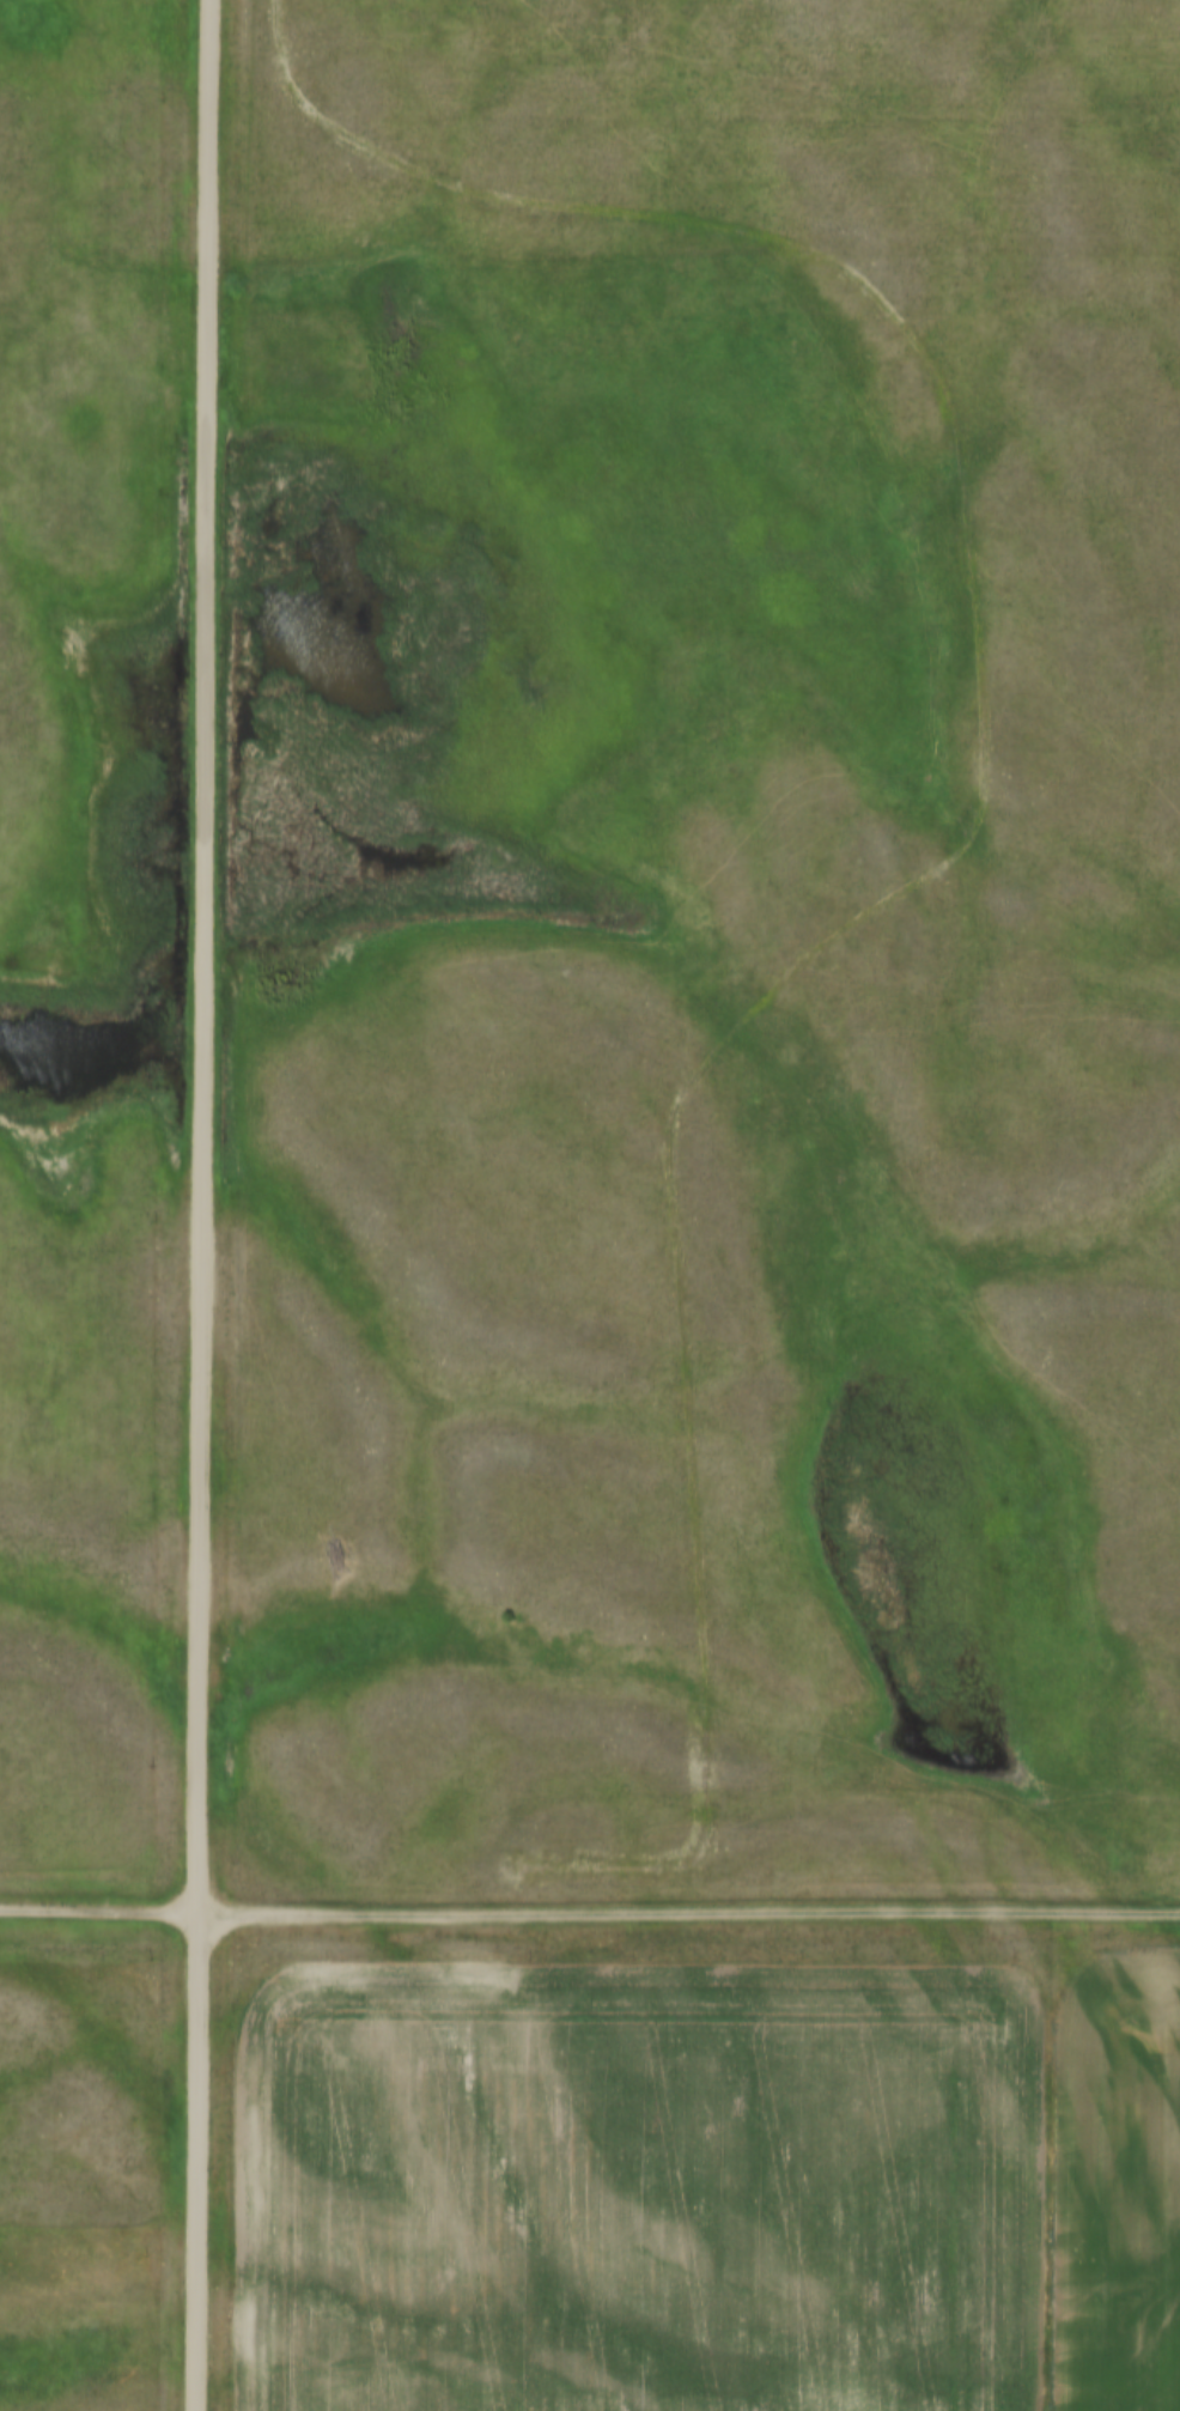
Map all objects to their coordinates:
road: (211, 1204)
road: (103, 1913)
road: (693, 1914)

